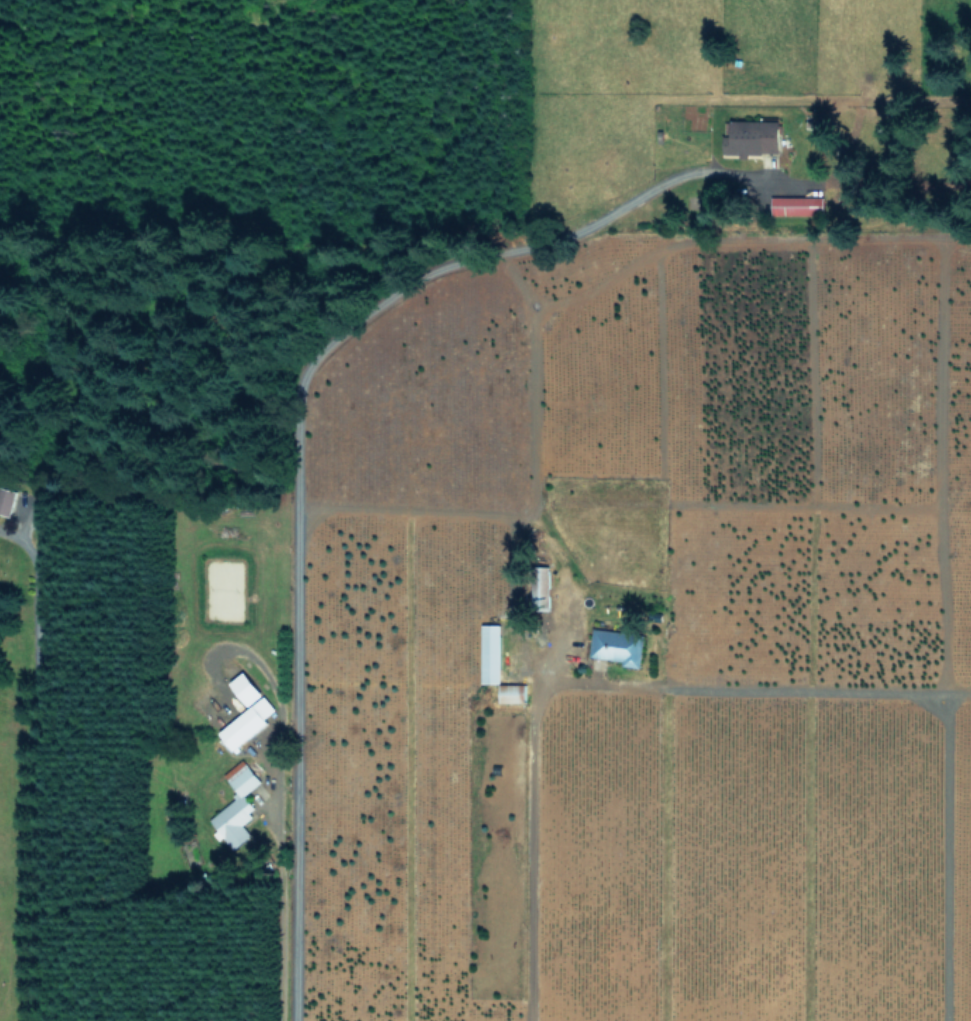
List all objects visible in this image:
building: (752, 136)
building: (796, 204)
road: (295, 428)
building: (6, 499)
building: (543, 583)
building: (617, 645)
building: (489, 653)
road: (566, 654)
building: (245, 687)
building: (511, 692)
building: (246, 722)
road: (36, 766)
building: (236, 807)

